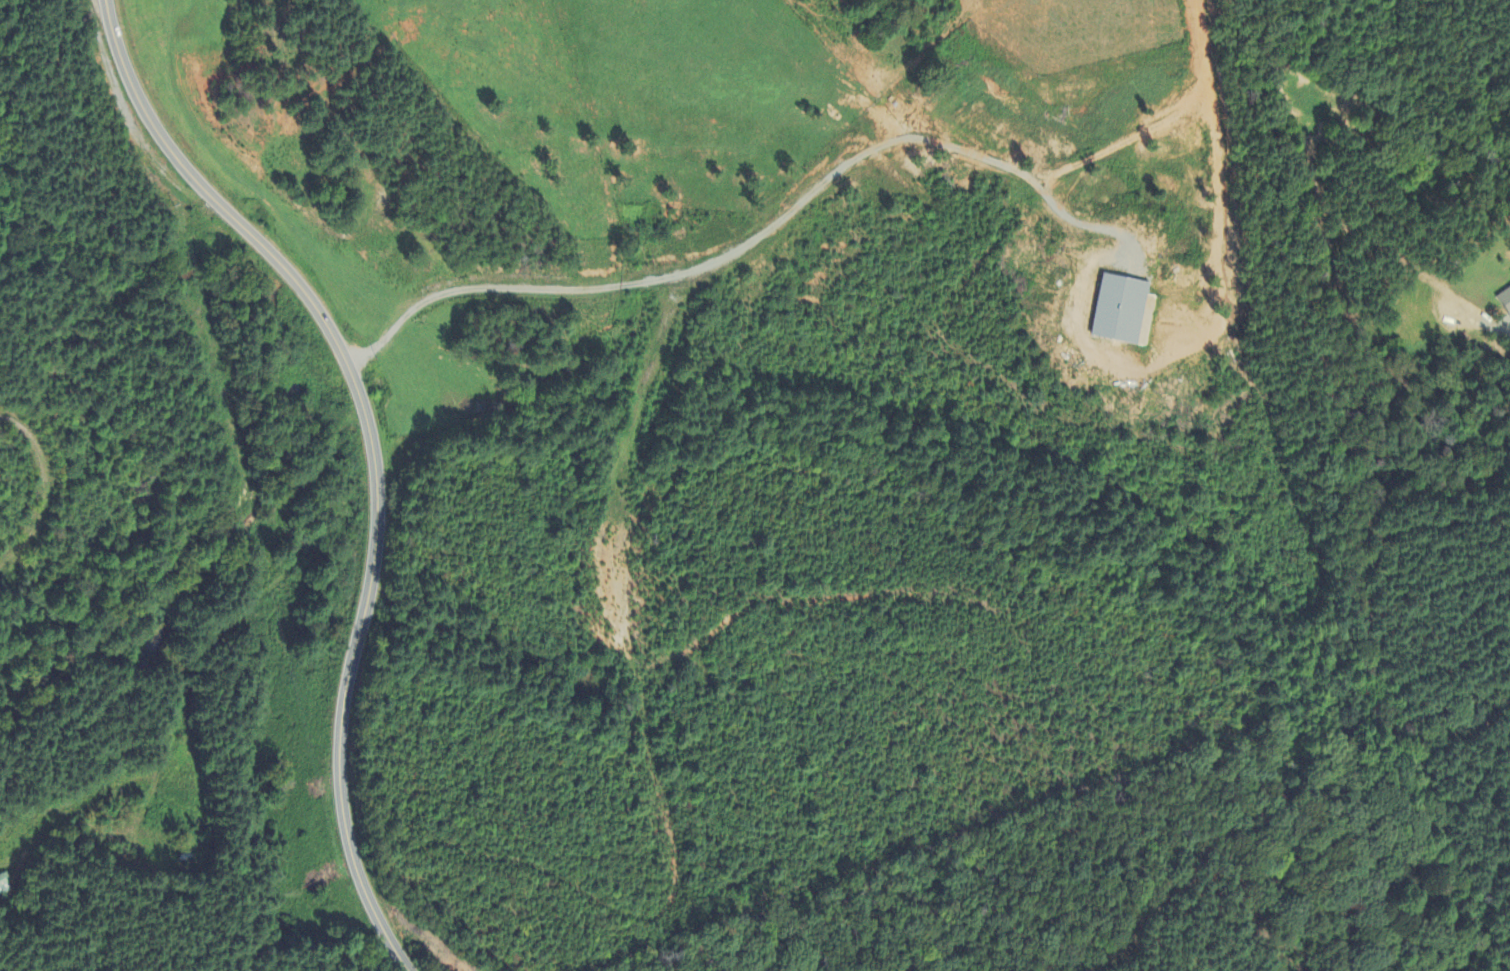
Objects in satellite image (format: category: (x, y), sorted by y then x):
road: (1159, 116)
road: (748, 243)
building: (1509, 275)
building: (1504, 303)
building: (1121, 313)
road: (1507, 328)
road: (372, 452)
building: (4, 886)

